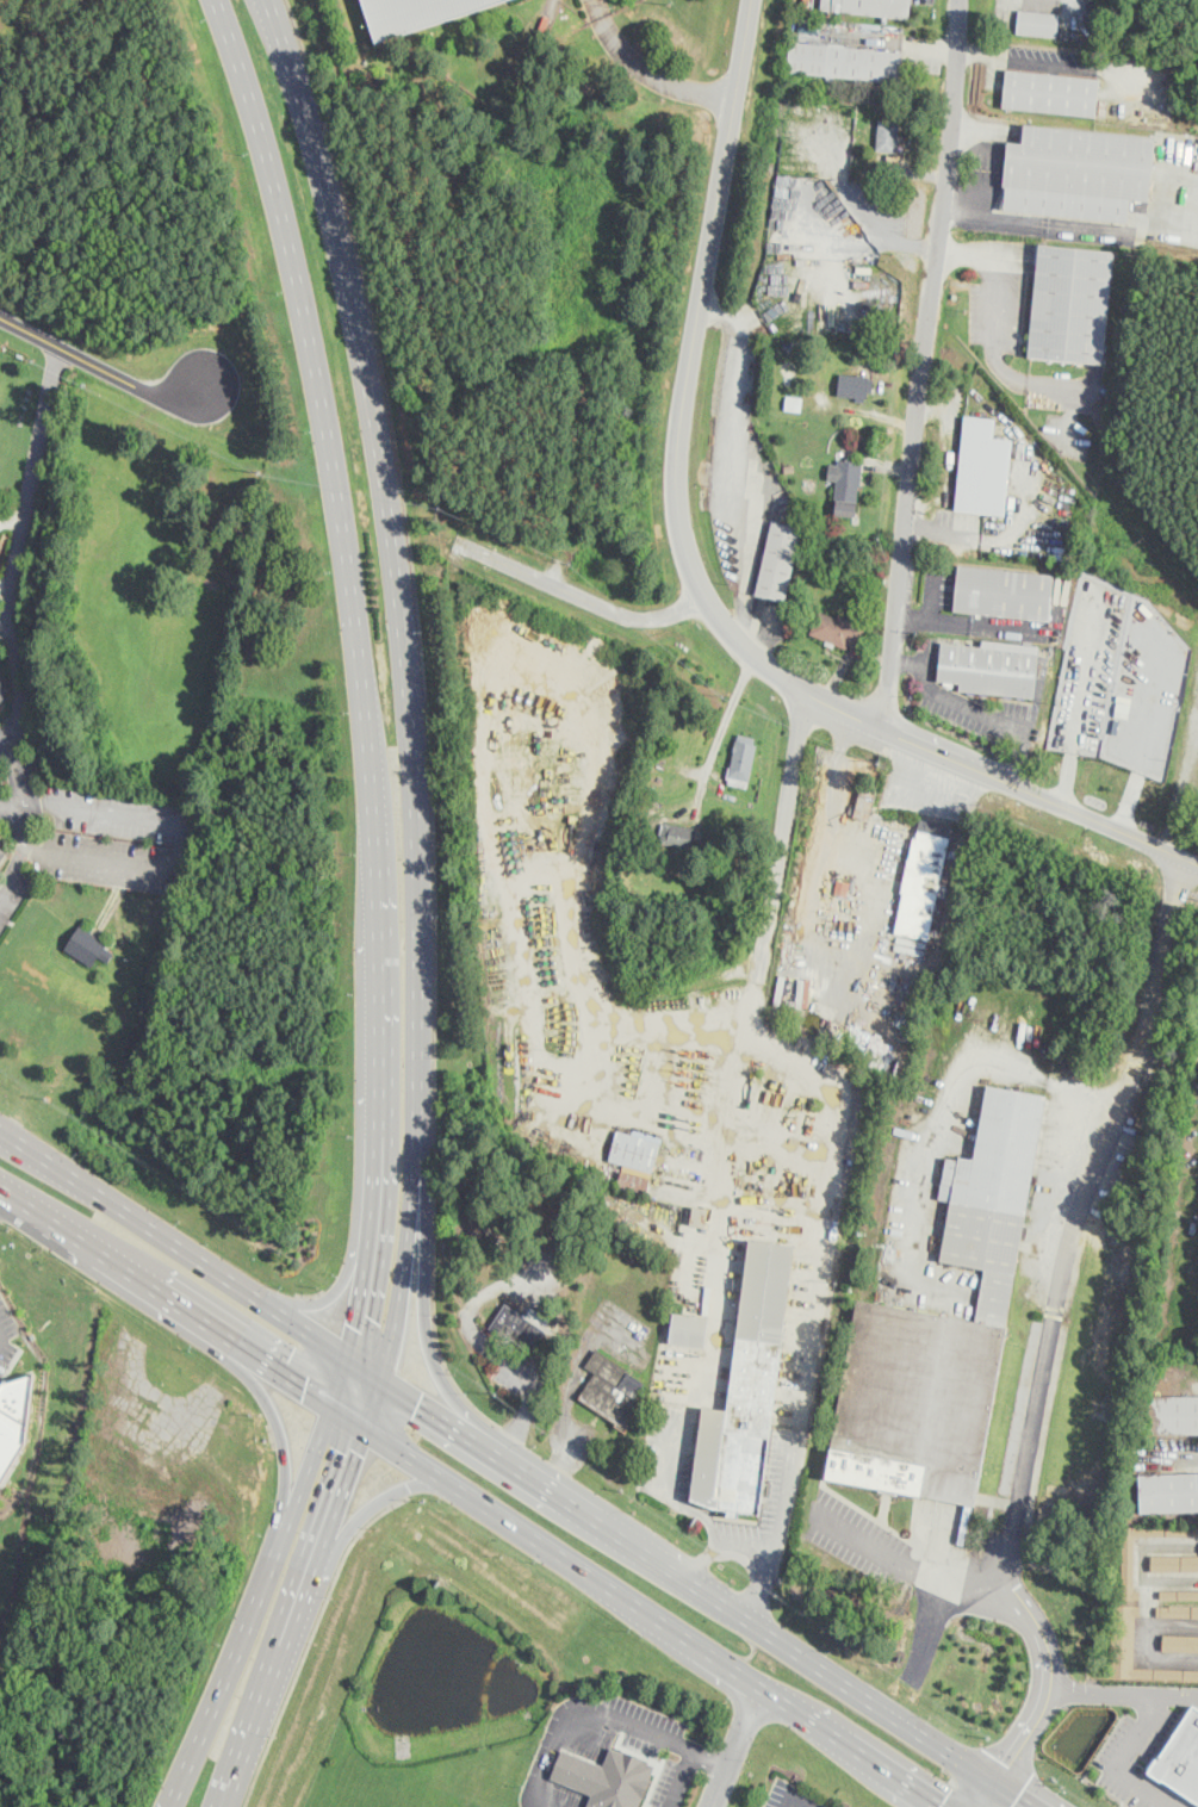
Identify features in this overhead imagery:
power tower: (668, 0)
building: (1092, 4)
building: (870, 7)
building: (415, 14)
road: (292, 15)
building: (1092, 18)
building: (1037, 24)
building: (1067, 33)
road: (875, 39)
road: (927, 44)
road: (1022, 56)
building: (845, 62)
road: (647, 73)
building: (1051, 93)
building: (888, 105)
road: (979, 123)
building: (888, 136)
road: (912, 166)
building: (1078, 173)
road: (989, 216)
power tower: (888, 255)
road: (998, 262)
building: (869, 303)
building: (1072, 304)
building: (788, 341)
road: (923, 364)
road: (105, 368)
building: (856, 387)
building: (795, 404)
building: (1101, 408)
road: (734, 458)
building: (982, 467)
building: (789, 468)
building: (849, 488)
power tower: (1135, 542)
road: (392, 544)
road: (18, 548)
building: (780, 561)
building: (858, 578)
road: (696, 579)
building: (1005, 594)
road: (584, 597)
road: (5, 617)
parking lot: (4, 629)
building: (838, 631)
building: (989, 670)
building: (4, 685)
road: (361, 695)
road: (976, 708)
road: (719, 731)
building: (744, 758)
road: (15, 769)
road: (832, 793)
building: (865, 805)
road: (10, 808)
parking lot: (82, 831)
building: (677, 836)
road: (782, 836)
building: (2, 852)
building: (929, 855)
road: (182, 859)
road: (13, 867)
building: (731, 882)
building: (842, 883)
building: (88, 945)
road: (987, 1060)
building: (633, 1151)
building: (634, 1179)
road: (1076, 1212)
road: (403, 1266)
road: (328, 1291)
road: (163, 1296)
road: (259, 1299)
road: (424, 1300)
traffic signals: (348, 1318)
building: (516, 1325)
building: (688, 1328)
building: (942, 1330)
parking lot: (7, 1334)
road: (0, 1335)
building: (614, 1384)
traffic signals: (303, 1389)
building: (746, 1390)
traffic signals: (417, 1404)
building: (1173, 1414)
building: (13, 1417)
road: (277, 1421)
road: (565, 1448)
road: (1188, 1449)
traffic signals: (358, 1452)
building: (1168, 1491)
road: (371, 1505)
road: (685, 1505)
road: (777, 1528)
parking lot: (855, 1536)
road: (703, 1557)
road: (902, 1563)
building: (1174, 1563)
building: (1129, 1586)
building: (1178, 1594)
road: (631, 1606)
road: (257, 1607)
building: (1177, 1612)
road: (298, 1617)
road: (310, 1639)
road: (770, 1639)
building: (1180, 1644)
building: (1165, 1671)
road: (1050, 1679)
road: (1124, 1693)
road: (606, 1713)
road: (732, 1747)
building: (1181, 1757)
road: (585, 1759)
road: (1117, 1762)
traffic signals: (1006, 1763)
building: (608, 1777)
road: (682, 1778)
road: (966, 1792)
road: (795, 1796)
road: (1001, 1801)
traffic signals: (1016, 1802)

